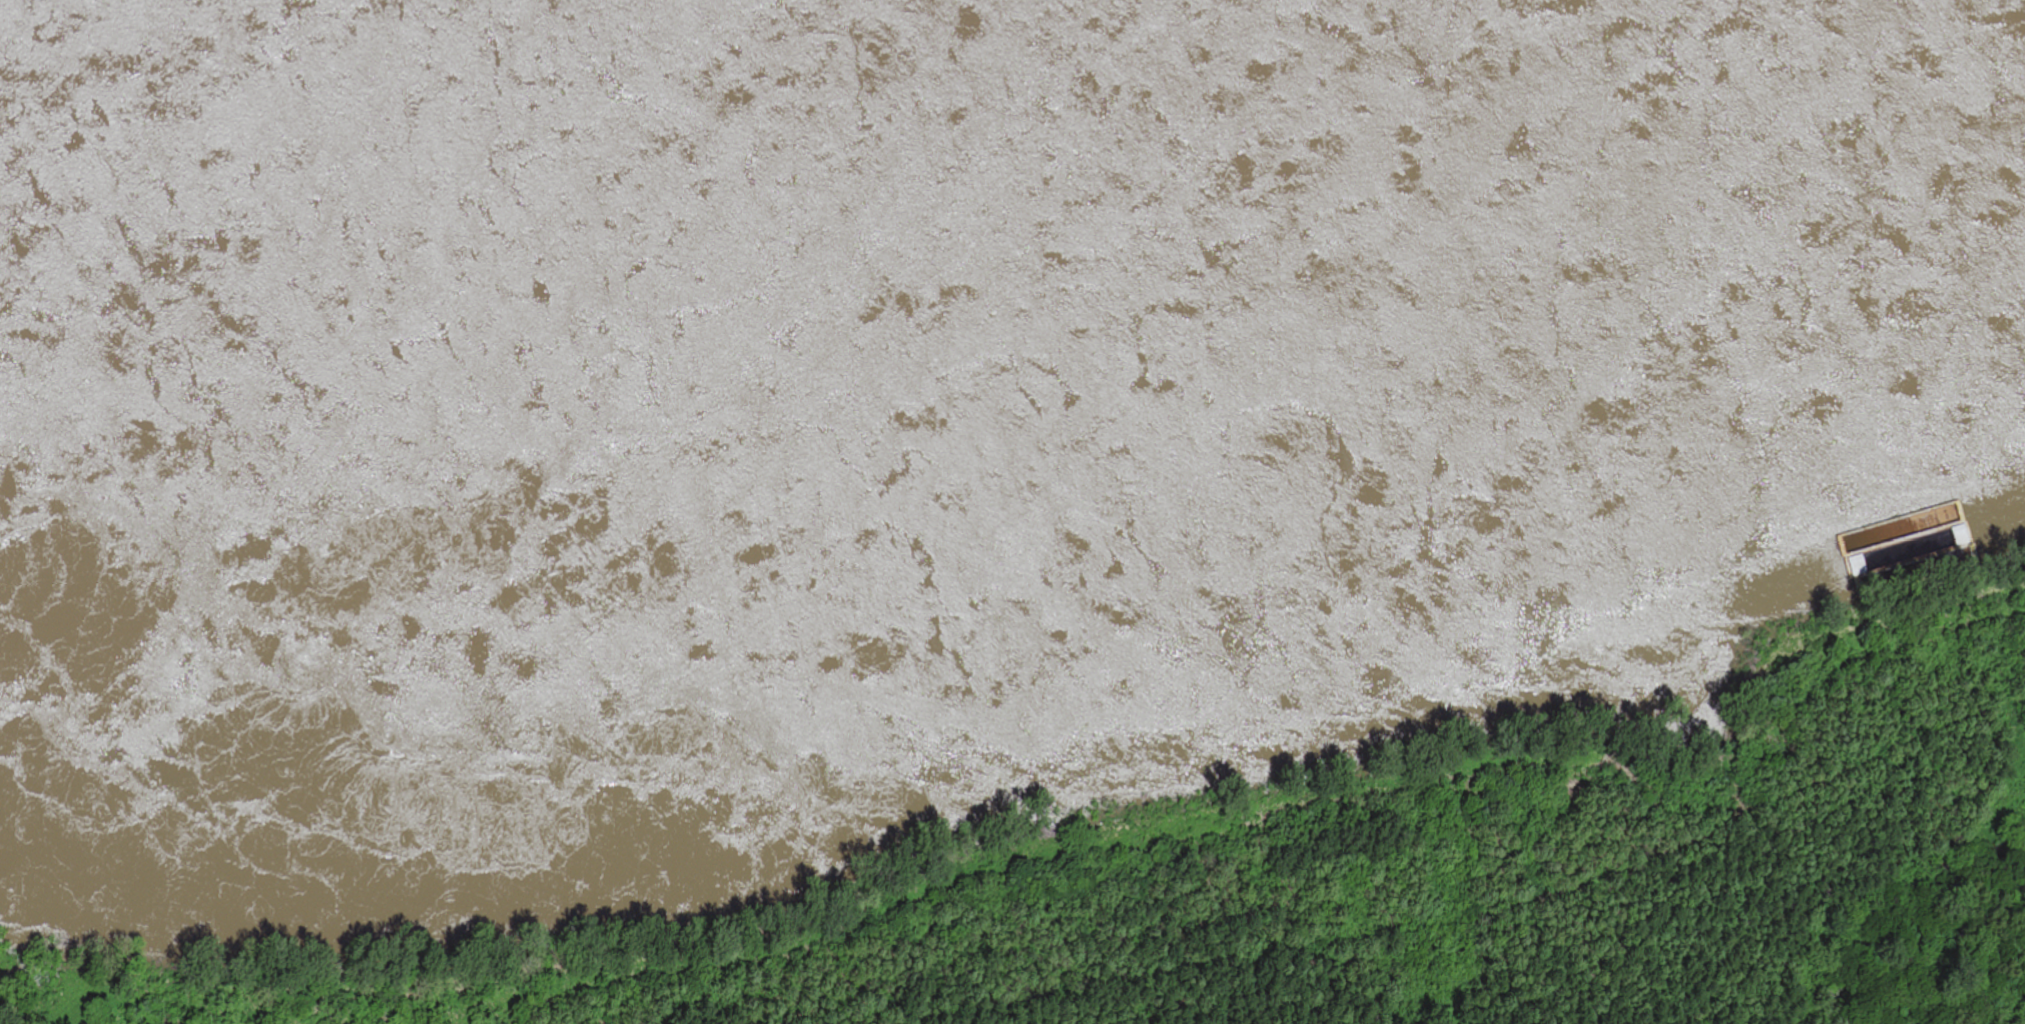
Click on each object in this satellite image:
river: (52, 18)
road: (1426, 843)

